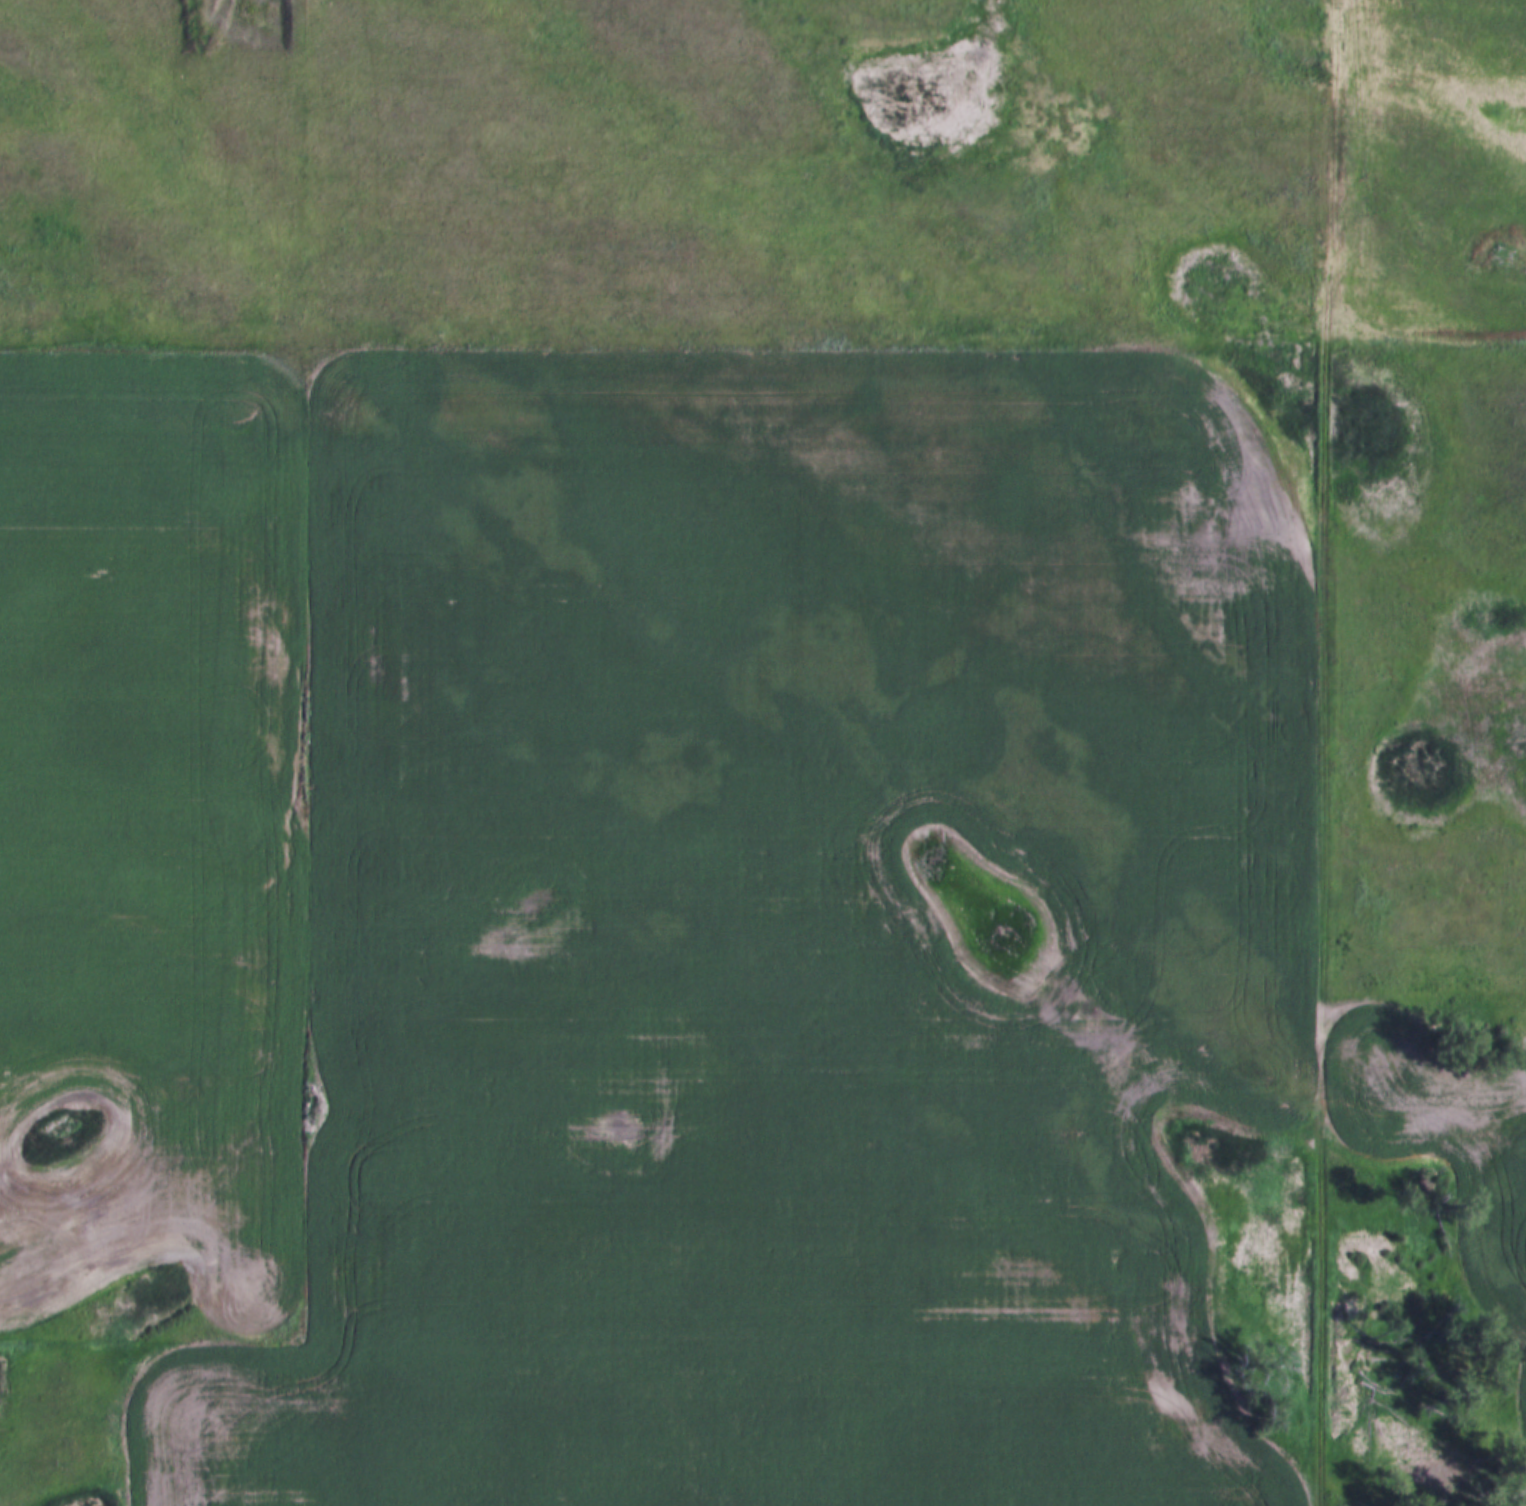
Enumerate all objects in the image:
road: (1323, 752)

